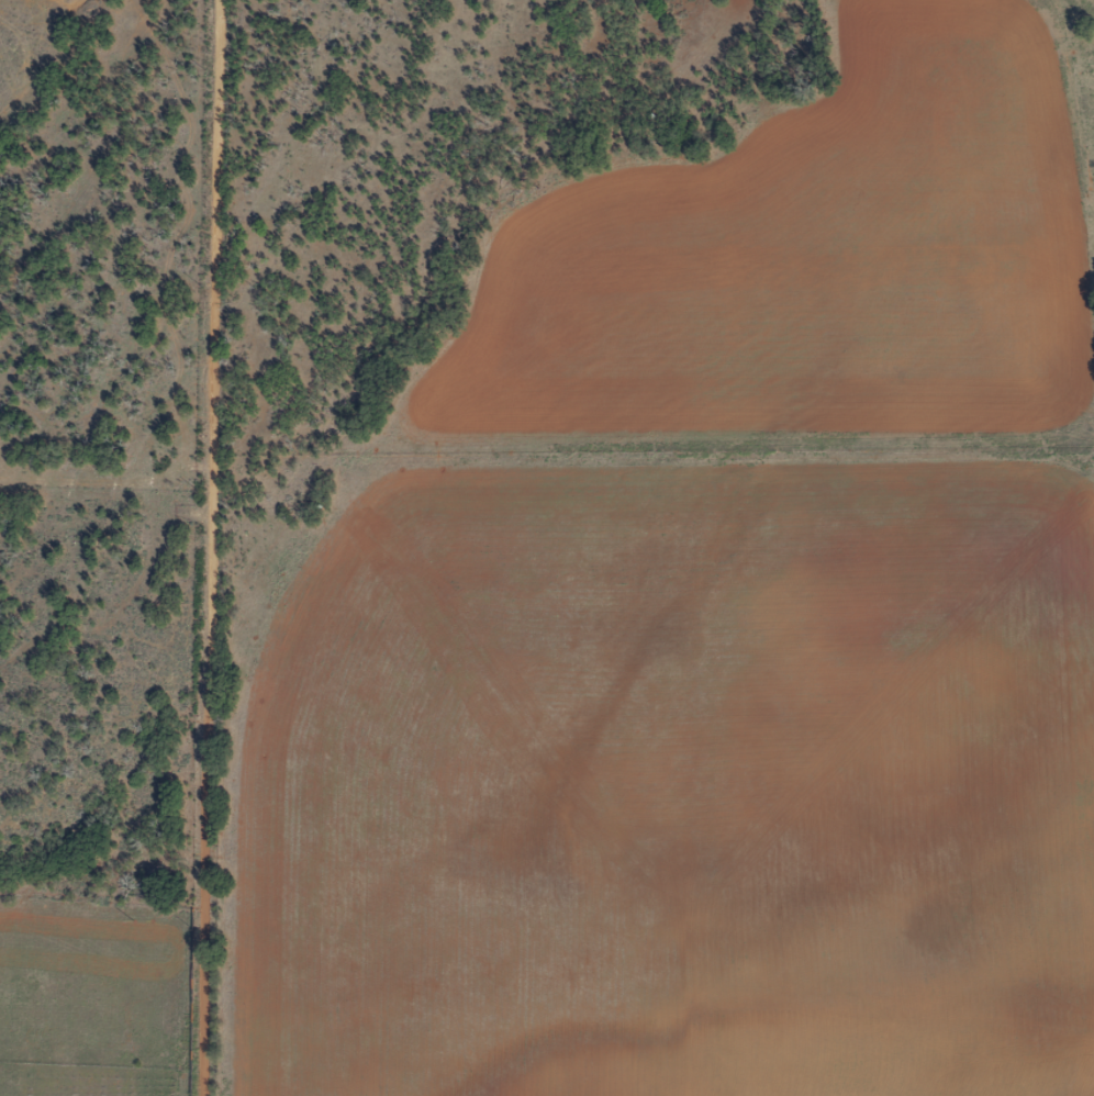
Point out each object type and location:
road: (208, 547)

